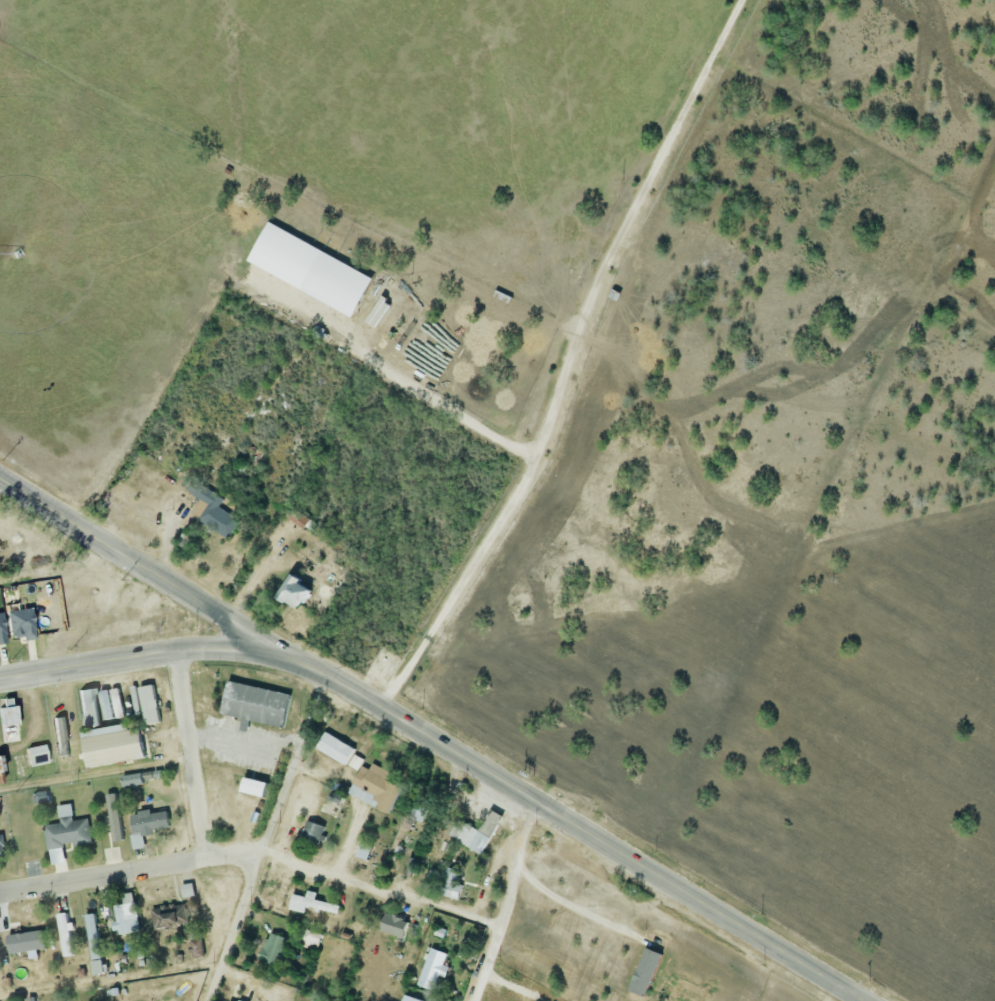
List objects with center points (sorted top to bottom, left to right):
building: (313, 269)
building: (383, 314)
road: (563, 362)
road: (1, 483)
building: (213, 510)
building: (302, 520)
road: (145, 570)
road: (253, 582)
building: (299, 592)
building: (23, 624)
building: (3, 630)
road: (144, 656)
building: (107, 704)
building: (151, 704)
building: (258, 704)
building: (110, 736)
road: (242, 747)
building: (337, 748)
building: (39, 754)
road: (188, 754)
building: (356, 761)
building: (2, 763)
road: (94, 776)
building: (134, 780)
building: (258, 787)
building: (376, 788)
building: (42, 796)
building: (115, 817)
building: (148, 825)
road: (574, 828)
building: (69, 830)
building: (477, 831)
building: (315, 832)
road: (259, 838)
building: (2, 848)
road: (253, 848)
building: (366, 851)
building: (453, 883)
building: (190, 890)
road: (564, 897)
road: (503, 902)
building: (313, 903)
building: (128, 915)
building: (171, 916)
building: (397, 924)
building: (66, 935)
building: (94, 936)
building: (314, 939)
building: (28, 941)
building: (275, 948)
building: (100, 966)
building: (436, 969)
building: (649, 971)
road: (108, 981)
building: (242, 1000)
building: (314, 1000)

